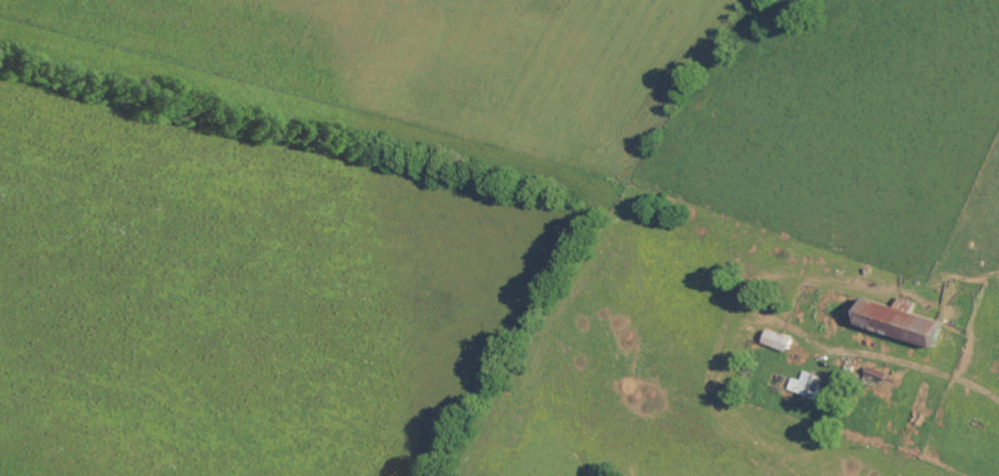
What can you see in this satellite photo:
building: (908, 305)
building: (905, 325)
building: (781, 342)
building: (879, 377)
building: (809, 386)
road: (979, 391)

